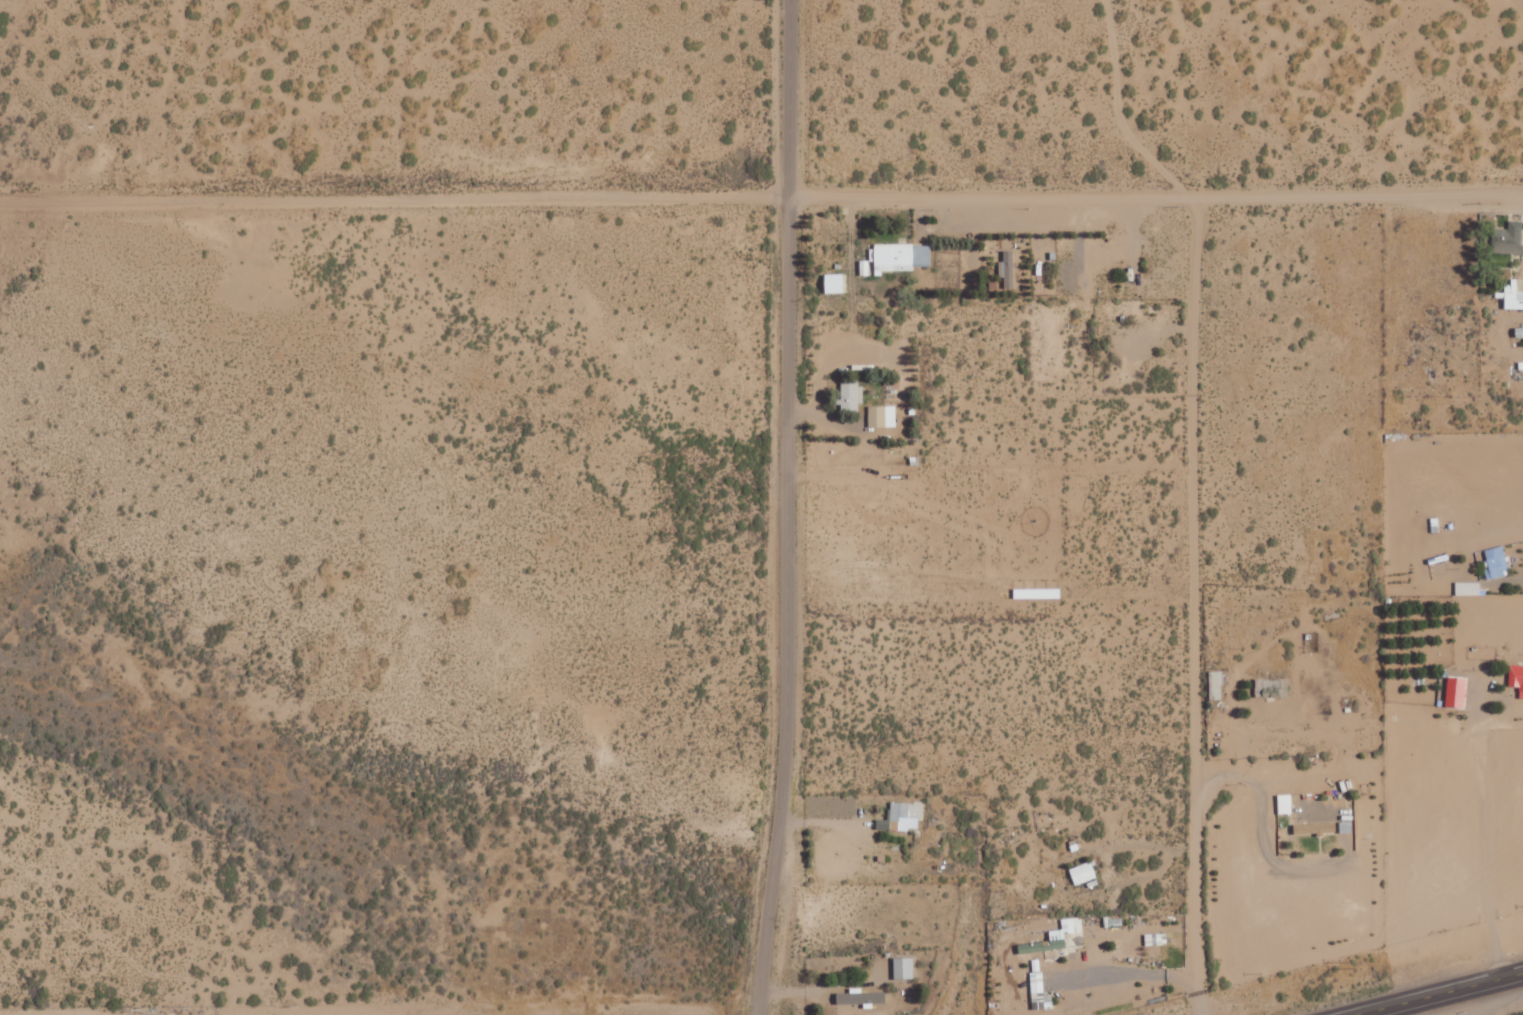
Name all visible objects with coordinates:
road: (761, 199)
building: (901, 256)
building: (834, 283)
building: (1513, 296)
building: (1519, 331)
building: (851, 396)
building: (882, 416)
road: (780, 507)
building: (1495, 563)
road: (1194, 604)
building: (1516, 678)
building: (1216, 685)
building: (1456, 692)
building: (1285, 804)
building: (906, 815)
building: (1083, 873)
building: (1055, 937)
building: (1040, 993)
road: (1438, 993)
building: (861, 998)

